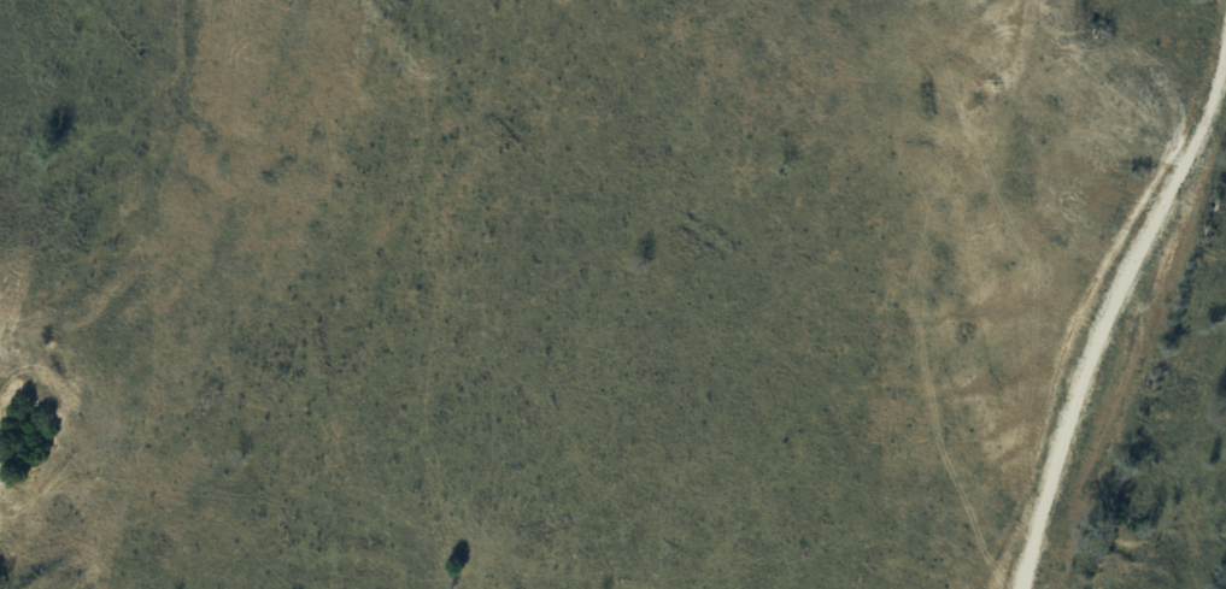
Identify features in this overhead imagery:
road: (1116, 293)

